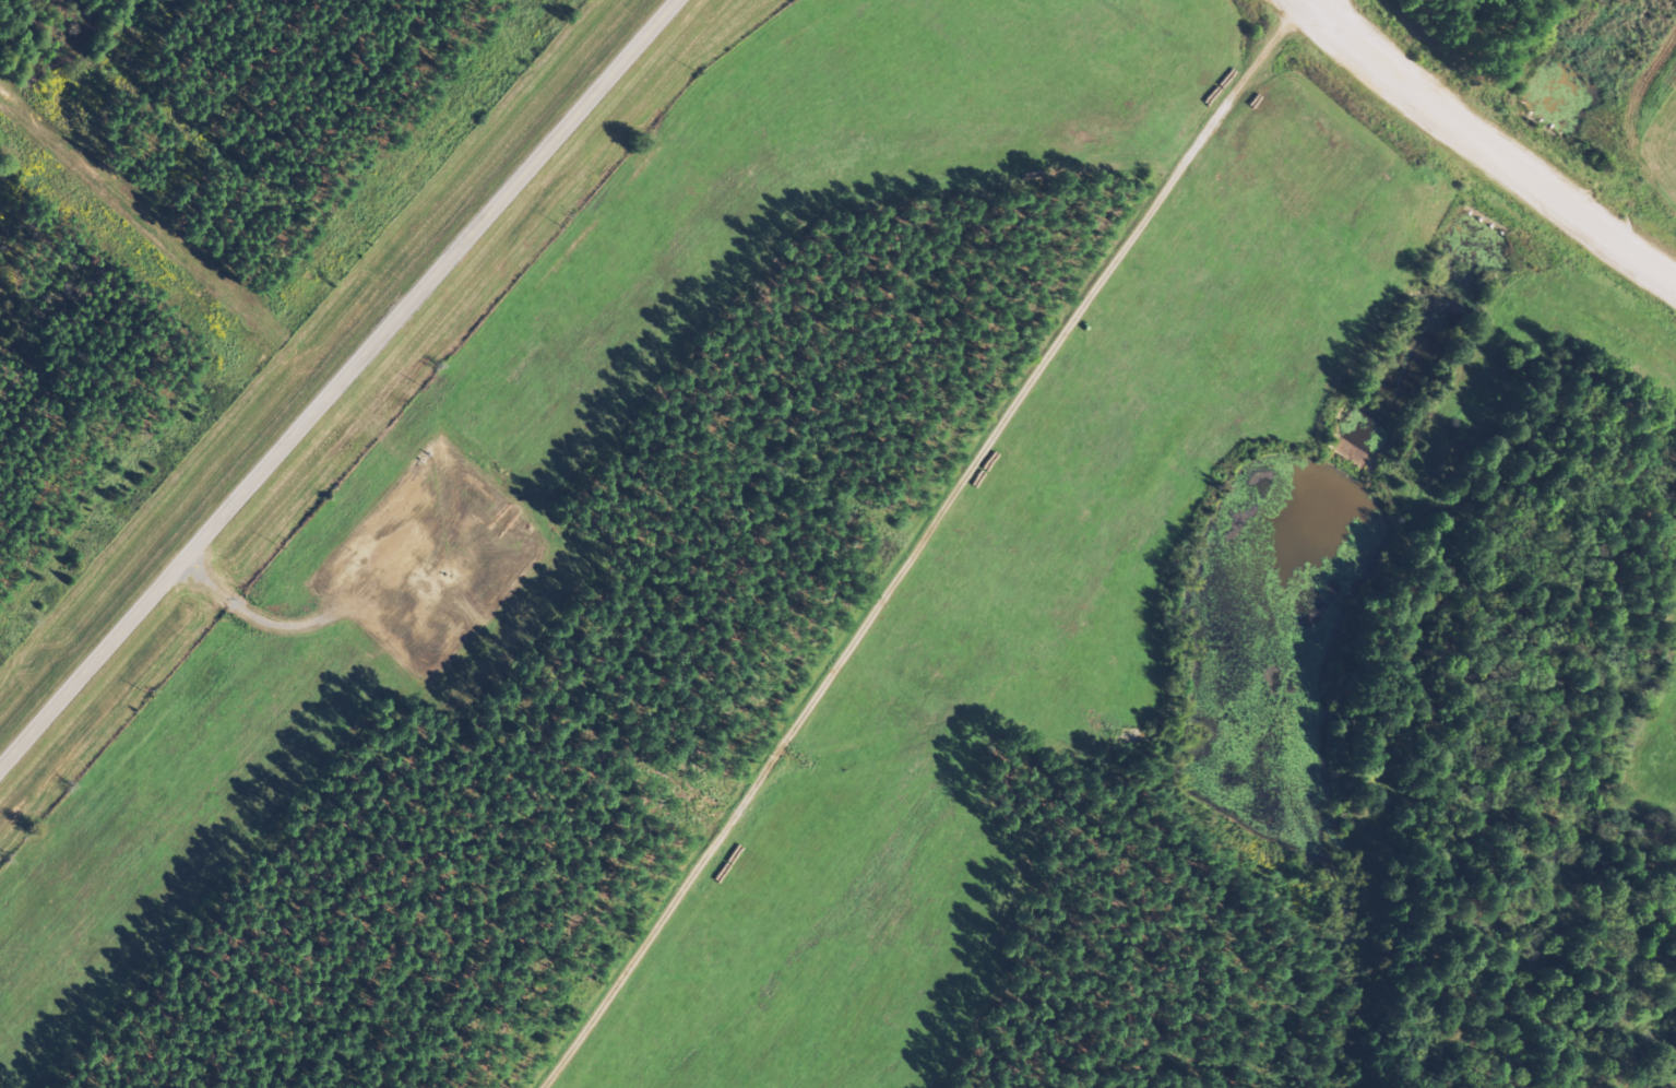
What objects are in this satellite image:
road: (1486, 138)
road: (336, 383)

